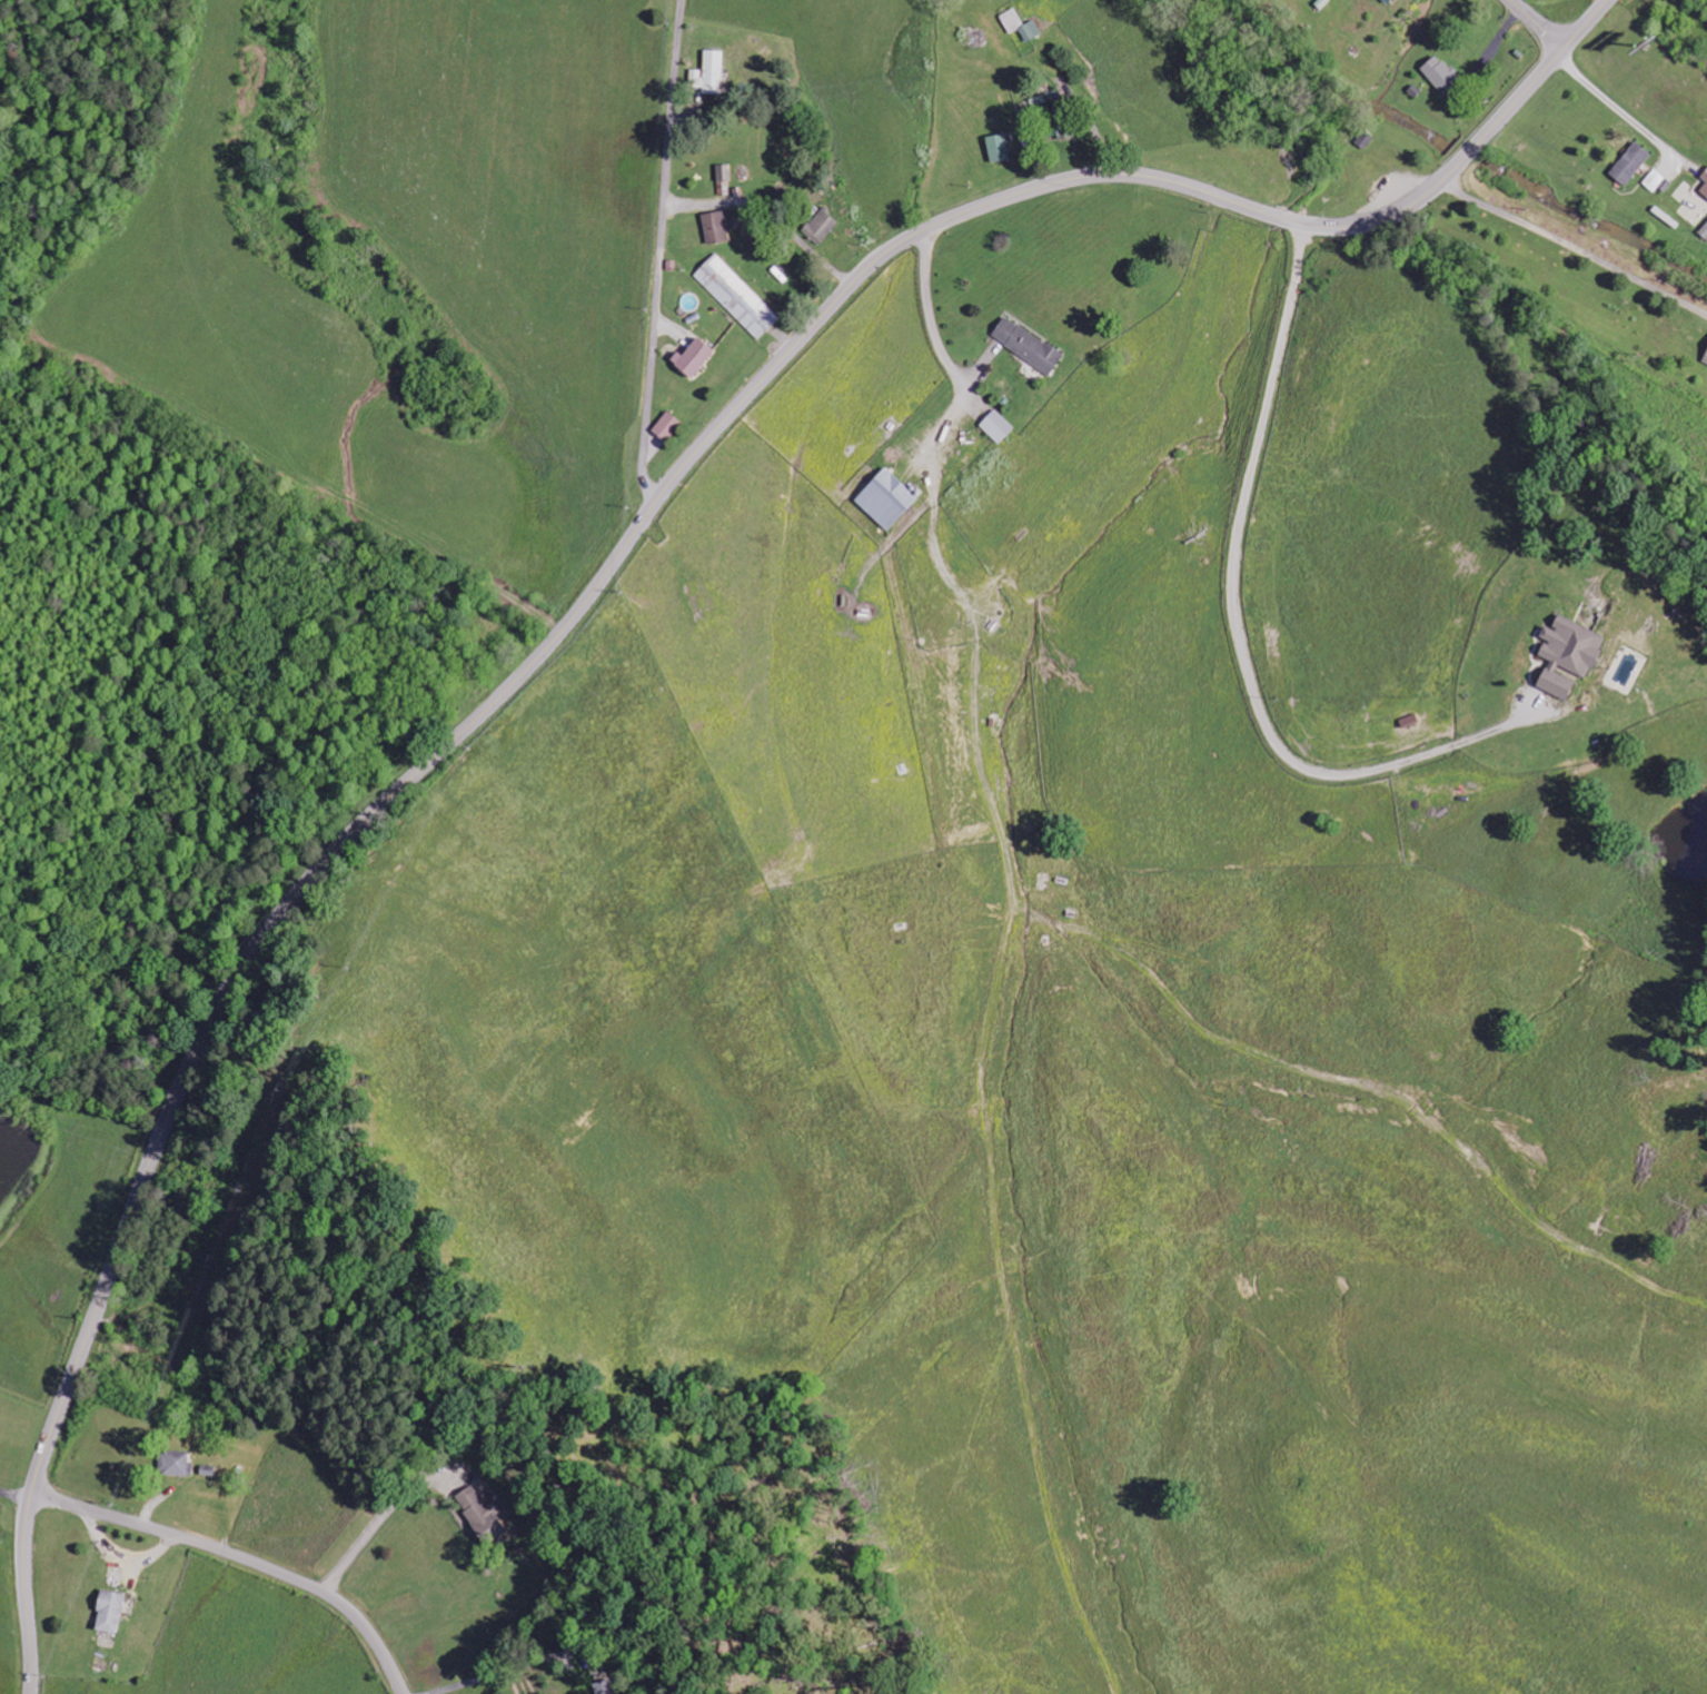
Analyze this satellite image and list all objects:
building: (1387, 1)
road: (1538, 24)
building: (1031, 31)
building: (709, 72)
building: (1440, 73)
building: (998, 147)
building: (1630, 162)
building: (723, 172)
building: (1705, 176)
building: (1655, 180)
building: (1705, 189)
building: (824, 222)
building: (715, 226)
building: (1704, 231)
building: (737, 297)
building: (1028, 345)
building: (694, 356)
building: (1705, 360)
building: (667, 426)
building: (998, 426)
building: (886, 498)
road: (594, 590)
building: (1568, 655)
building: (176, 1464)
building: (480, 1516)
road: (242, 1557)
building: (110, 1612)
building: (605, 1687)

